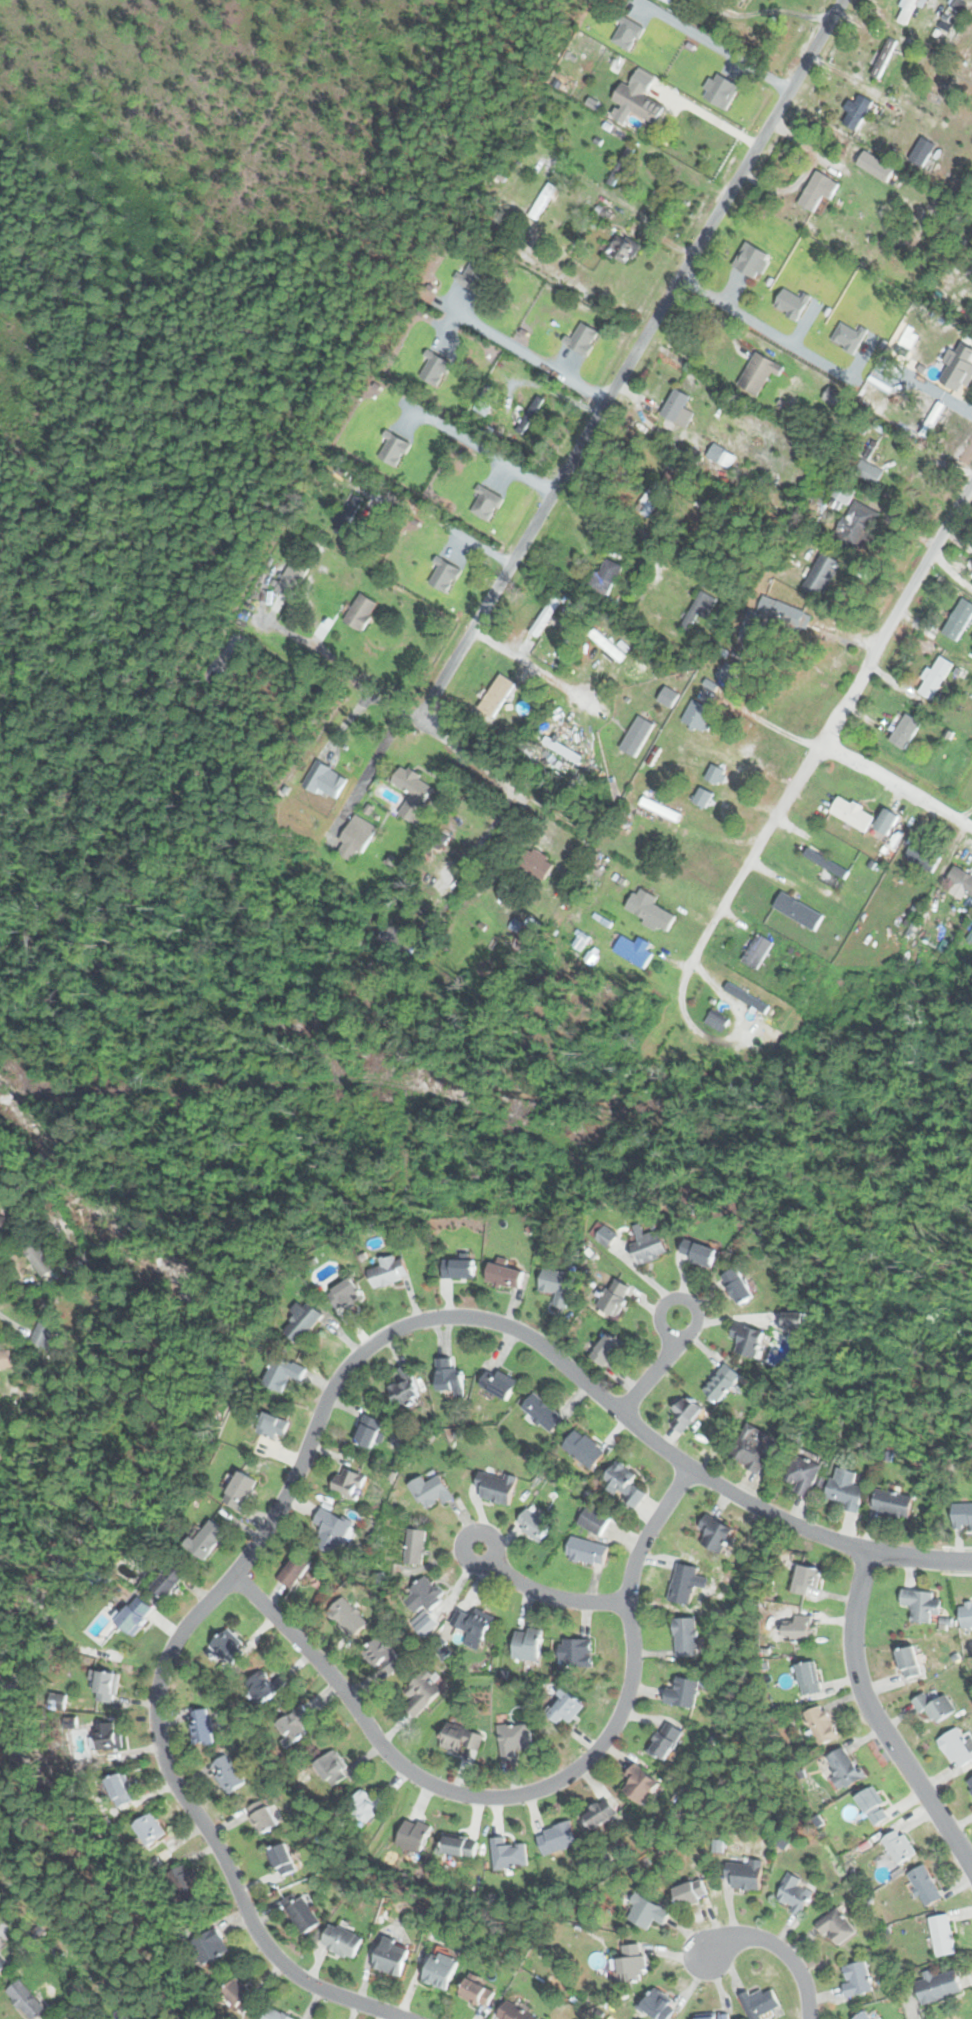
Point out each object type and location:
building: (670, 1)
building: (907, 11)
road: (714, 44)
building: (884, 57)
building: (638, 103)
building: (856, 112)
building: (922, 152)
building: (875, 166)
building: (819, 193)
building: (541, 203)
building: (622, 249)
building: (781, 279)
road: (715, 317)
building: (550, 327)
road: (527, 353)
road: (630, 359)
building: (759, 372)
building: (965, 378)
building: (834, 397)
building: (486, 400)
building: (678, 408)
building: (935, 415)
road: (481, 448)
building: (721, 458)
building: (869, 472)
building: (486, 496)
building: (652, 498)
building: (348, 514)
building: (857, 524)
road: (955, 540)
road: (950, 568)
building: (453, 570)
building: (609, 573)
building: (822, 573)
building: (291, 579)
building: (699, 609)
building: (361, 611)
building: (545, 615)
building: (759, 617)
building: (959, 620)
building: (609, 646)
road: (535, 668)
building: (727, 673)
building: (935, 677)
building: (497, 695)
building: (669, 696)
building: (699, 716)
road: (771, 725)
building: (905, 731)
road: (828, 733)
building: (637, 736)
road: (463, 747)
building: (716, 775)
building: (324, 780)
road: (898, 782)
building: (414, 793)
building: (703, 797)
building: (852, 814)
building: (354, 839)
building: (922, 857)
building: (538, 864)
building: (827, 864)
road: (447, 873)
building: (961, 879)
building: (650, 909)
building: (798, 911)
building: (399, 940)
building: (757, 951)
building: (635, 952)
building: (746, 998)
building: (2, 1224)
building: (603, 1233)
building: (648, 1244)
building: (698, 1252)
building: (42, 1260)
building: (458, 1268)
building: (388, 1270)
building: (505, 1276)
building: (557, 1285)
building: (738, 1285)
building: (345, 1296)
building: (615, 1297)
building: (303, 1320)
building: (799, 1320)
building: (44, 1328)
building: (747, 1339)
building: (606, 1349)
building: (5, 1359)
road: (656, 1368)
building: (283, 1373)
building: (449, 1378)
building: (722, 1383)
building: (494, 1384)
building: (404, 1388)
building: (543, 1413)
building: (686, 1413)
building: (273, 1426)
building: (369, 1431)
building: (754, 1448)
building: (583, 1449)
road: (299, 1464)
building: (804, 1472)
building: (349, 1482)
building: (623, 1483)
building: (495, 1487)
building: (845, 1489)
building: (240, 1491)
building: (431, 1491)
building: (892, 1504)
building: (962, 1516)
building: (593, 1520)
building: (534, 1522)
building: (331, 1530)
building: (715, 1533)
building: (206, 1540)
building: (414, 1546)
building: (587, 1551)
road: (920, 1558)
building: (294, 1570)
building: (806, 1580)
building: (170, 1581)
building: (685, 1583)
road: (544, 1594)
building: (423, 1597)
building: (921, 1605)
building: (966, 1614)
building: (135, 1616)
building: (348, 1616)
building: (473, 1622)
building: (797, 1628)
building: (686, 1636)
building: (527, 1644)
building: (229, 1647)
building: (577, 1652)
building: (381, 1654)
building: (909, 1662)
building: (808, 1677)
building: (263, 1686)
building: (104, 1687)
building: (421, 1692)
building: (683, 1692)
building: (564, 1706)
building: (934, 1708)
road: (876, 1721)
building: (293, 1725)
building: (821, 1725)
building: (202, 1726)
building: (108, 1736)
building: (460, 1738)
building: (515, 1738)
building: (666, 1740)
building: (957, 1746)
building: (330, 1766)
building: (843, 1767)
building: (226, 1774)
building: (640, 1783)
building: (969, 1784)
building: (119, 1790)
road: (527, 1792)
building: (366, 1805)
building: (871, 1807)
building: (600, 1814)
building: (262, 1816)
building: (148, 1830)
building: (413, 1836)
building: (557, 1838)
building: (898, 1847)
building: (459, 1848)
building: (508, 1854)
building: (281, 1860)
building: (745, 1874)
building: (185, 1884)
building: (924, 1886)
building: (691, 1893)
building: (794, 1894)
building: (300, 1912)
building: (645, 1912)
building: (836, 1925)
building: (942, 1935)
building: (342, 1941)
building: (208, 1946)
road: (774, 1946)
building: (391, 1956)
building: (1, 1958)
building: (633, 1961)
building: (440, 1970)
building: (857, 1979)
building: (937, 1986)
building: (477, 1993)
building: (238, 1996)
building: (25, 2000)
building: (761, 2003)
building: (658, 2006)
building: (513, 2012)
building: (275, 2014)
building: (864, 2016)
building: (715, 2017)

